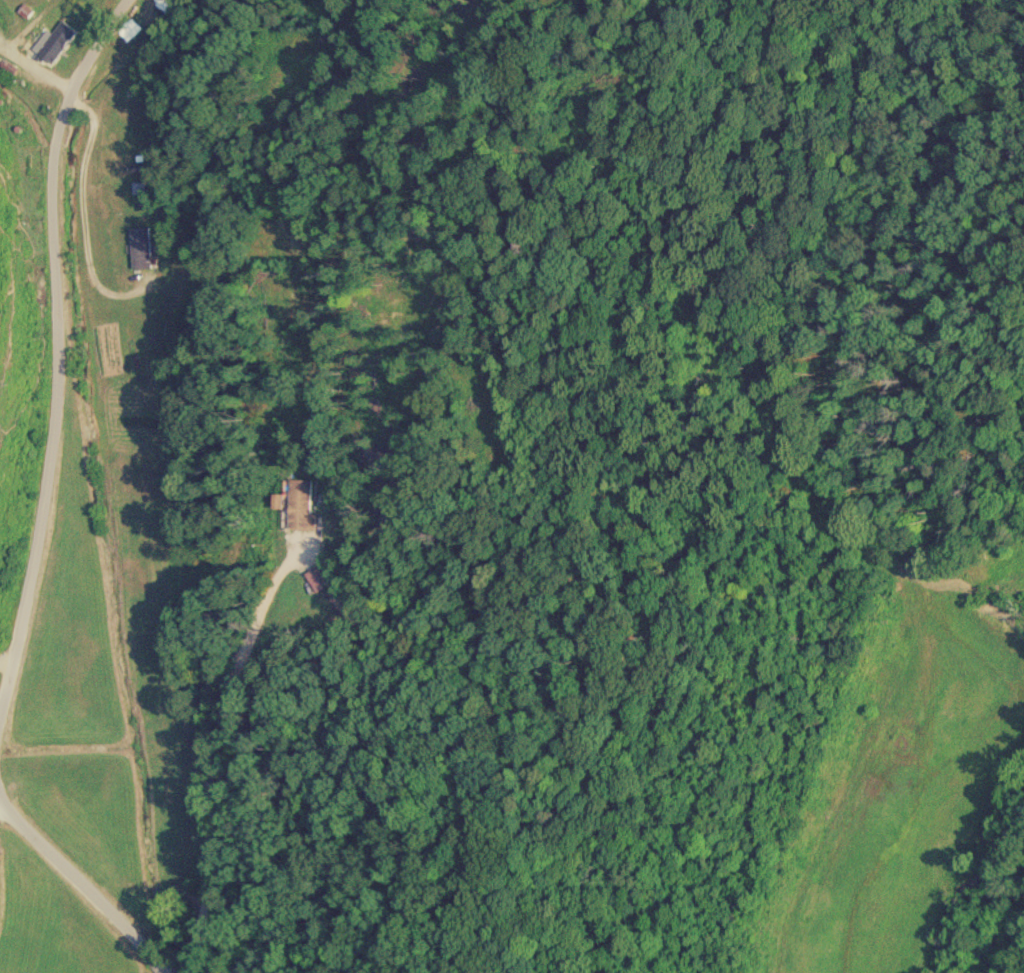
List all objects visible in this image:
road: (57, 349)
road: (6, 657)
road: (211, 751)
road: (83, 884)

